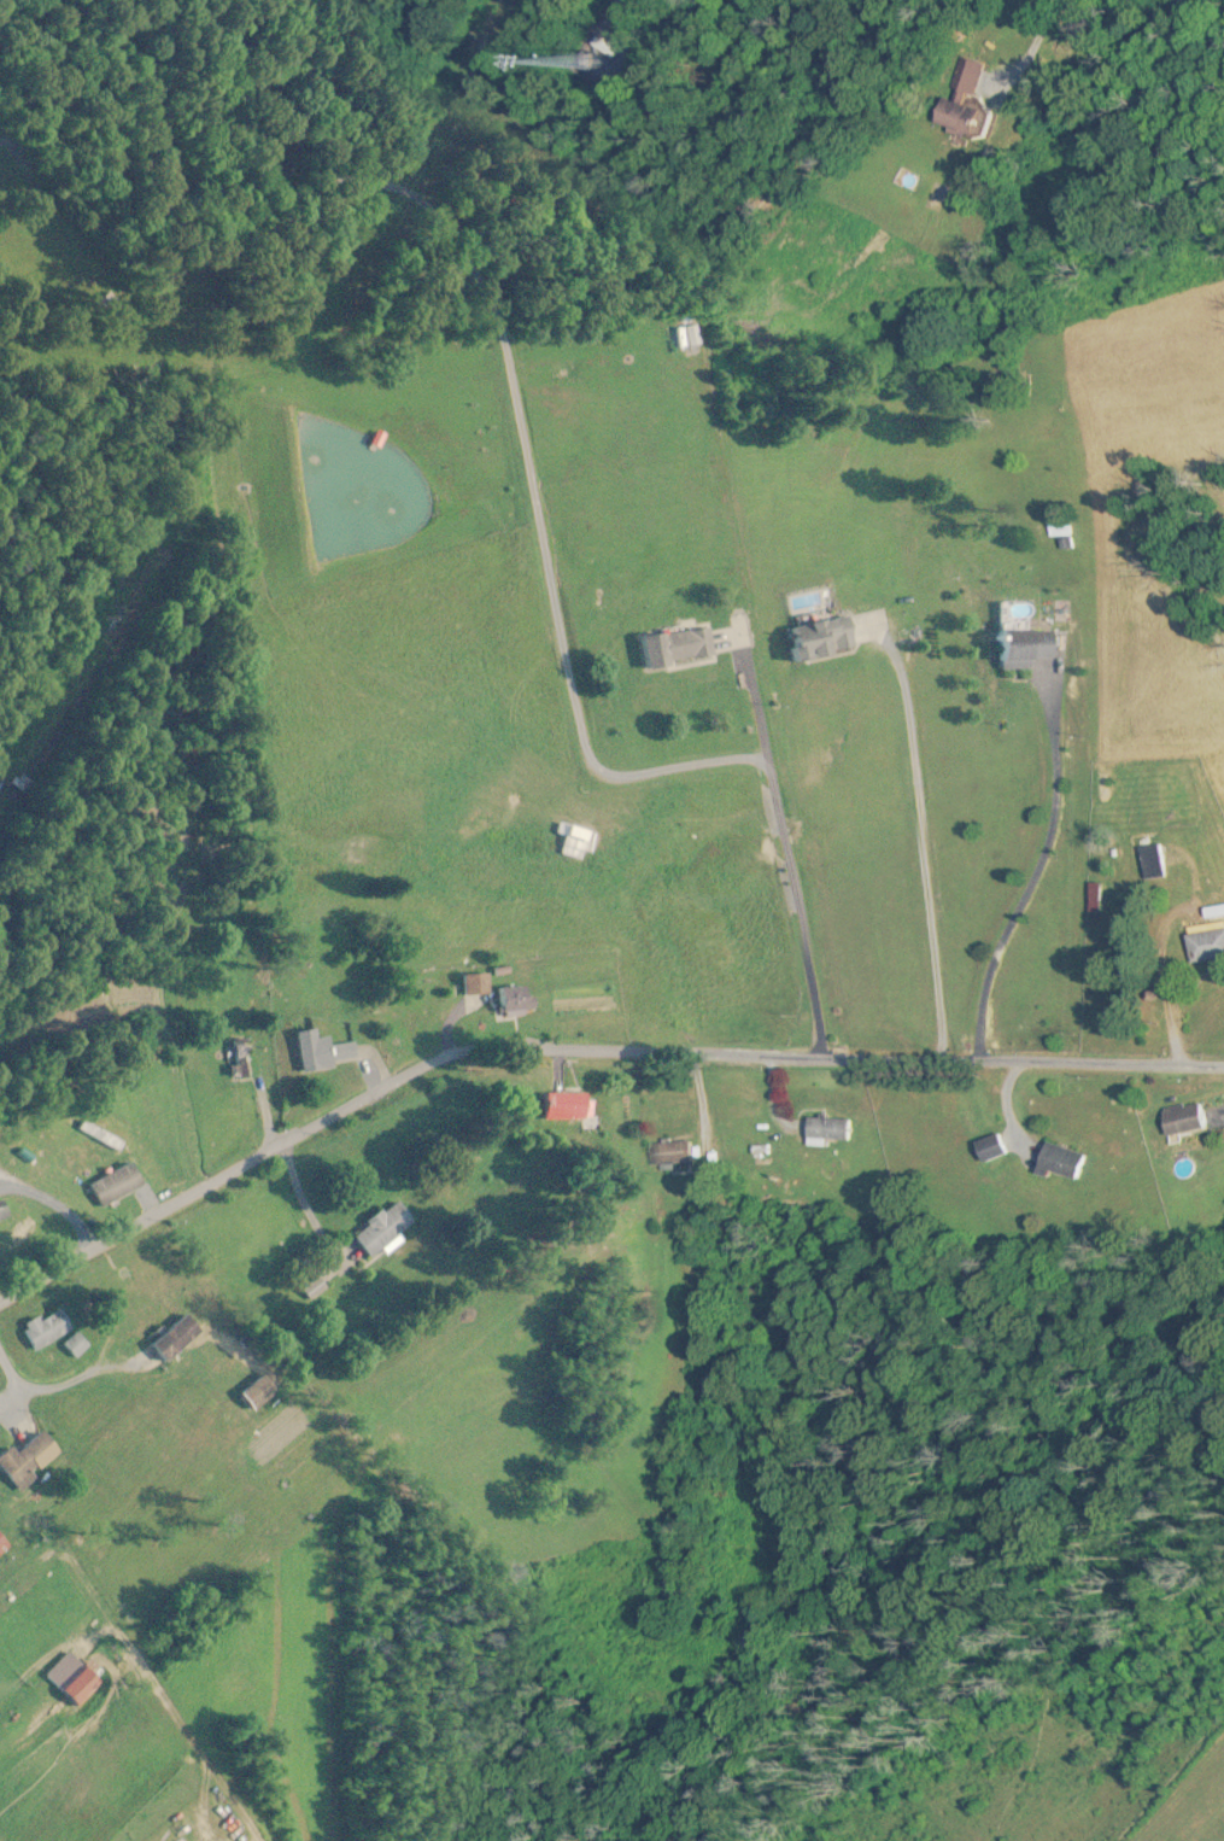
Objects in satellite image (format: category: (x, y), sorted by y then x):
road: (627, 6)
building: (971, 118)
building: (690, 338)
road: (532, 499)
building: (808, 638)
building: (669, 647)
building: (1018, 648)
building: (1103, 783)
building: (16, 784)
building: (576, 840)
road: (925, 843)
building: (1155, 861)
road: (1047, 878)
building: (1205, 946)
building: (478, 984)
building: (516, 1000)
road: (580, 1051)
building: (323, 1052)
building: (564, 1106)
building: (1177, 1121)
building: (834, 1130)
building: (99, 1135)
building: (998, 1149)
building: (678, 1152)
building: (1071, 1162)
building: (381, 1229)
building: (314, 1288)
building: (48, 1329)
building: (75, 1345)
building: (169, 1345)
building: (258, 1393)
building: (28, 1459)
building: (2, 1544)
building: (71, 1679)

